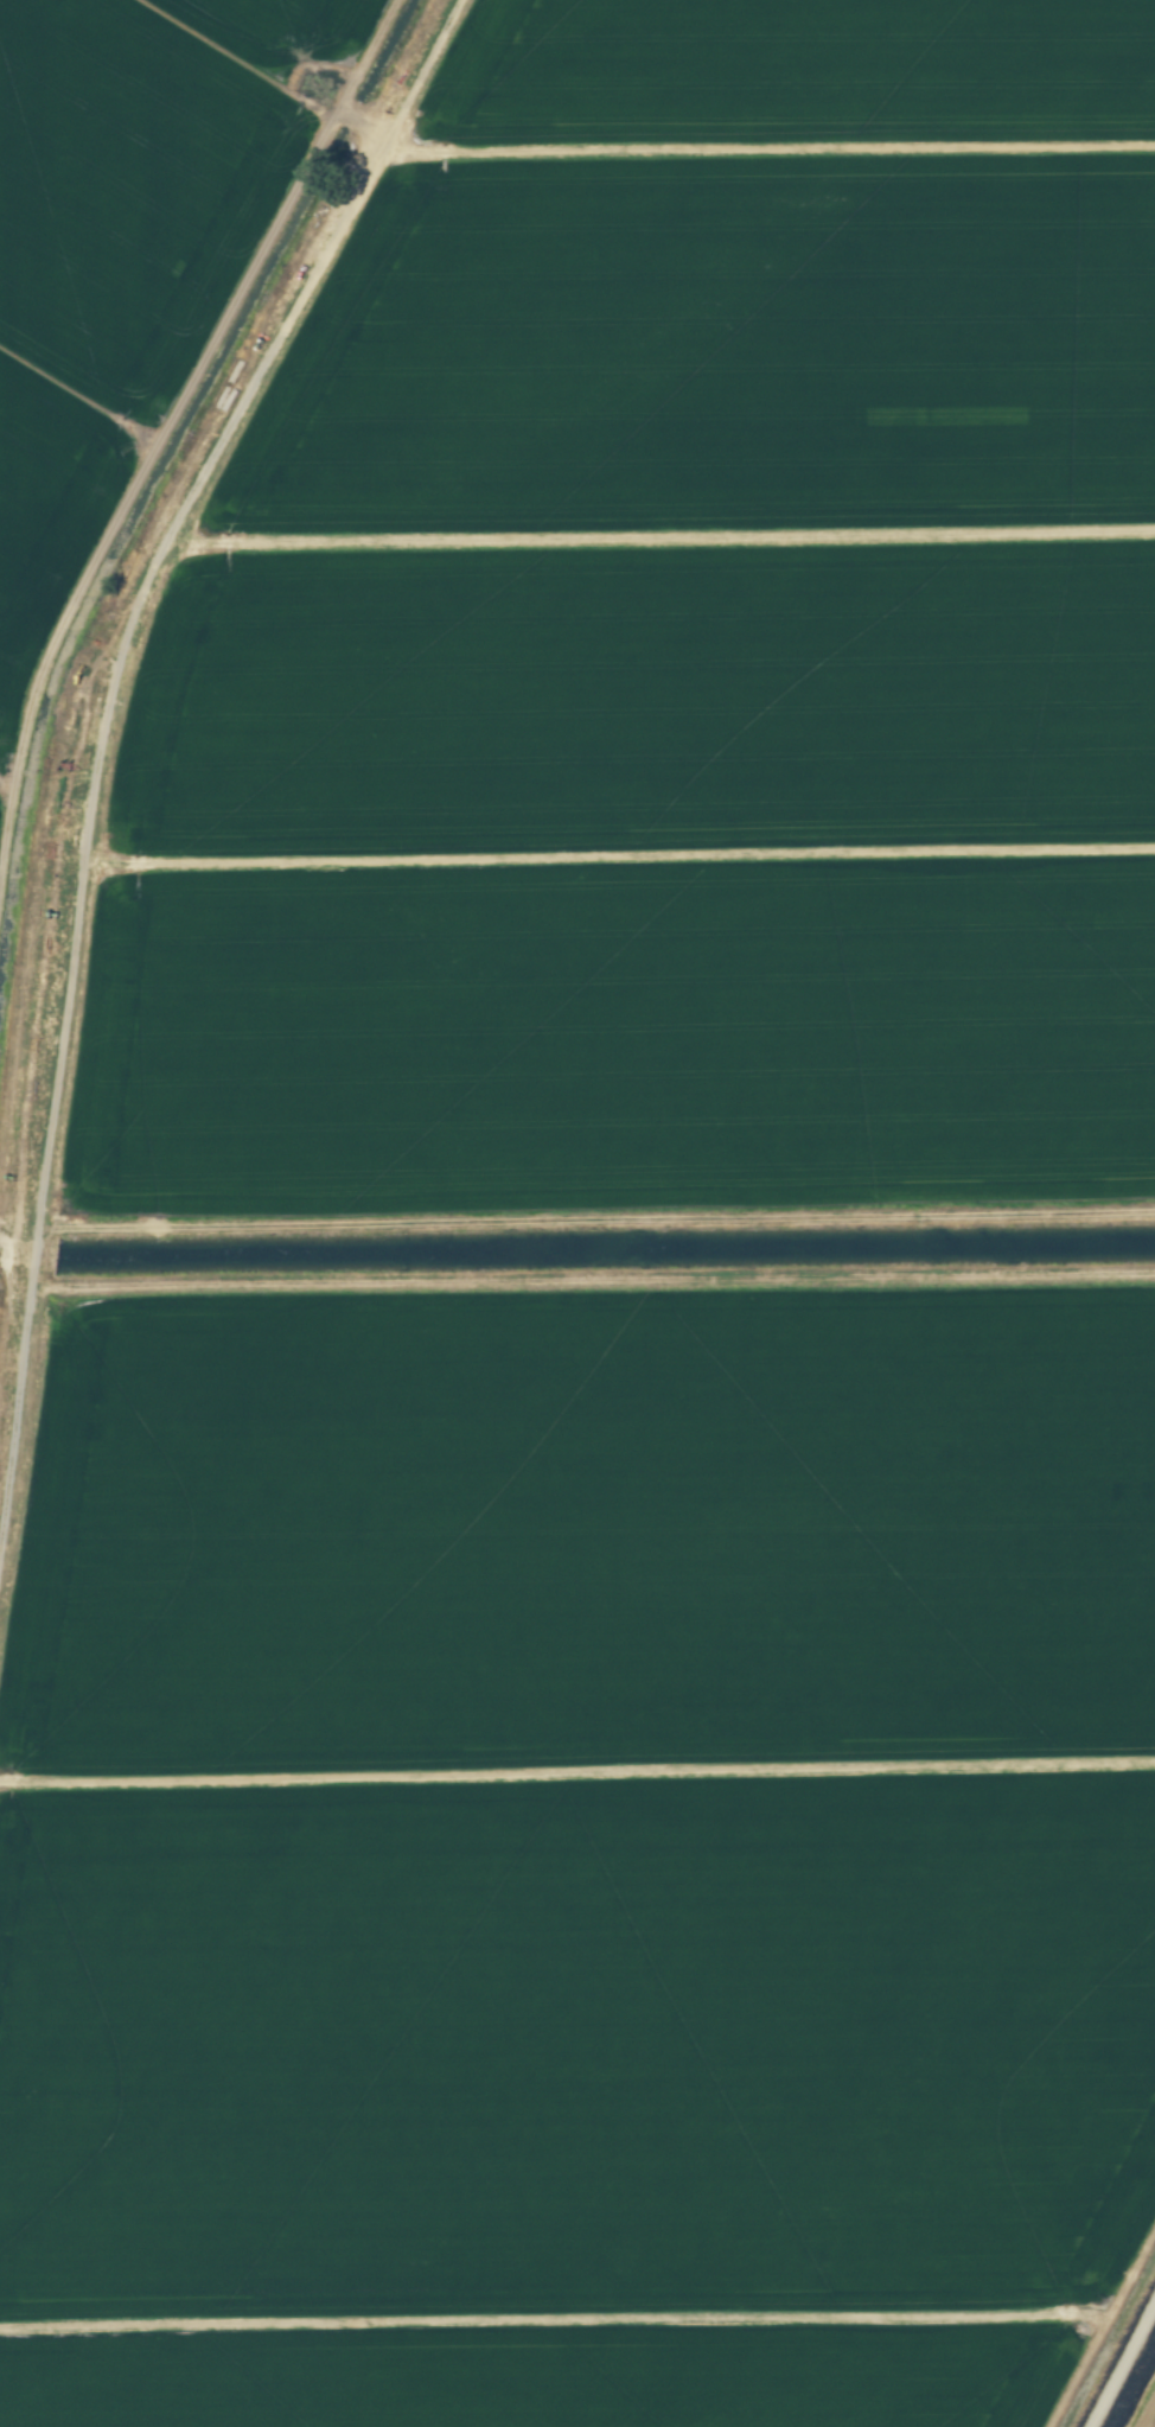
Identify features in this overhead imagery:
road: (77, 932)
road: (20, 1217)

